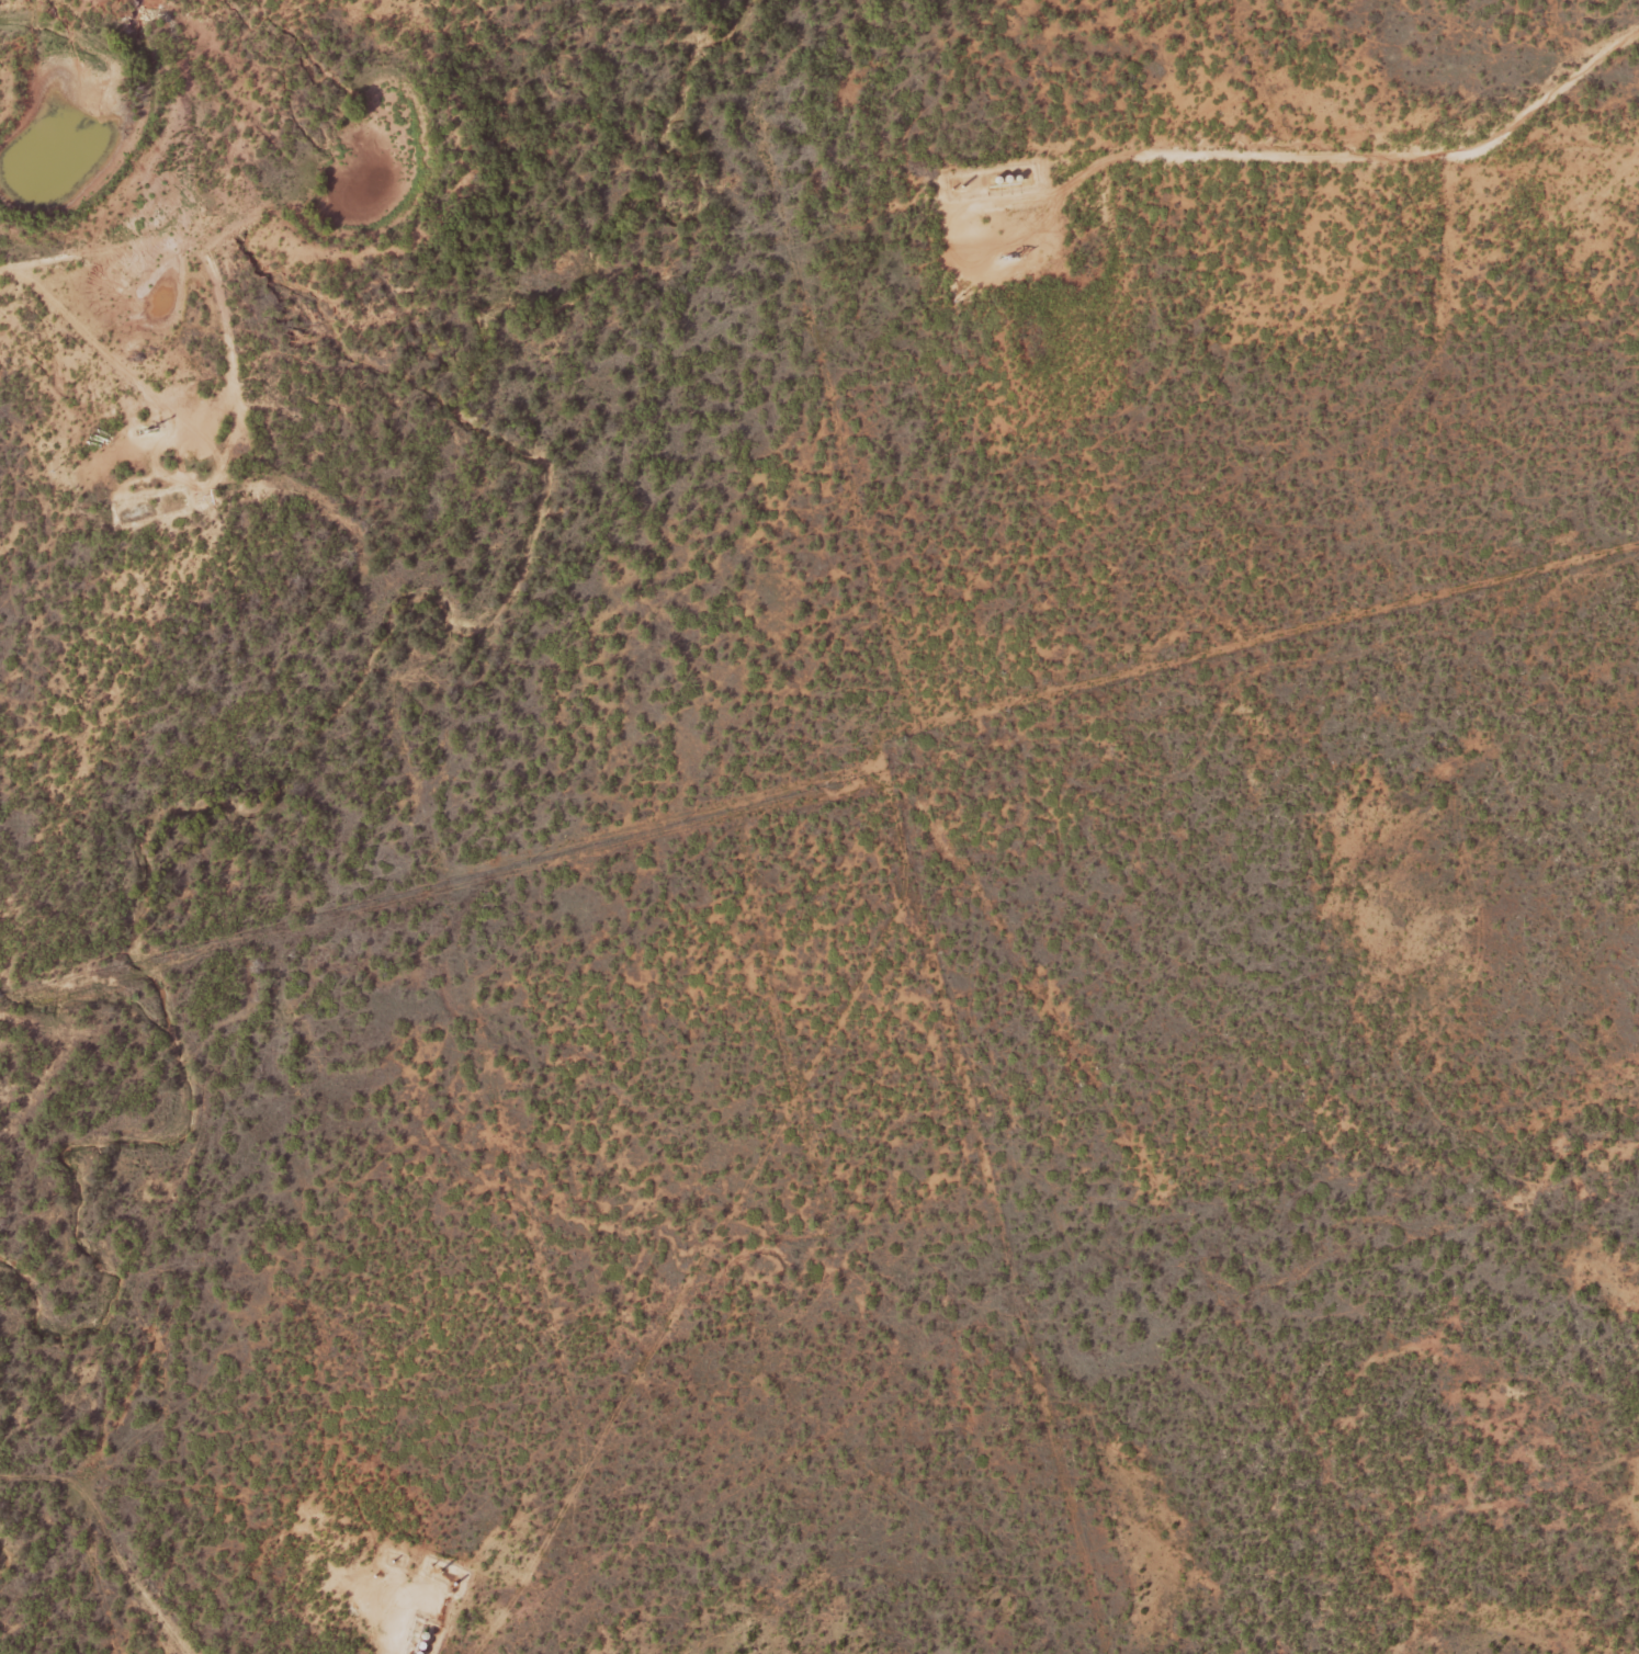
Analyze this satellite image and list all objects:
building: (137, 511)

